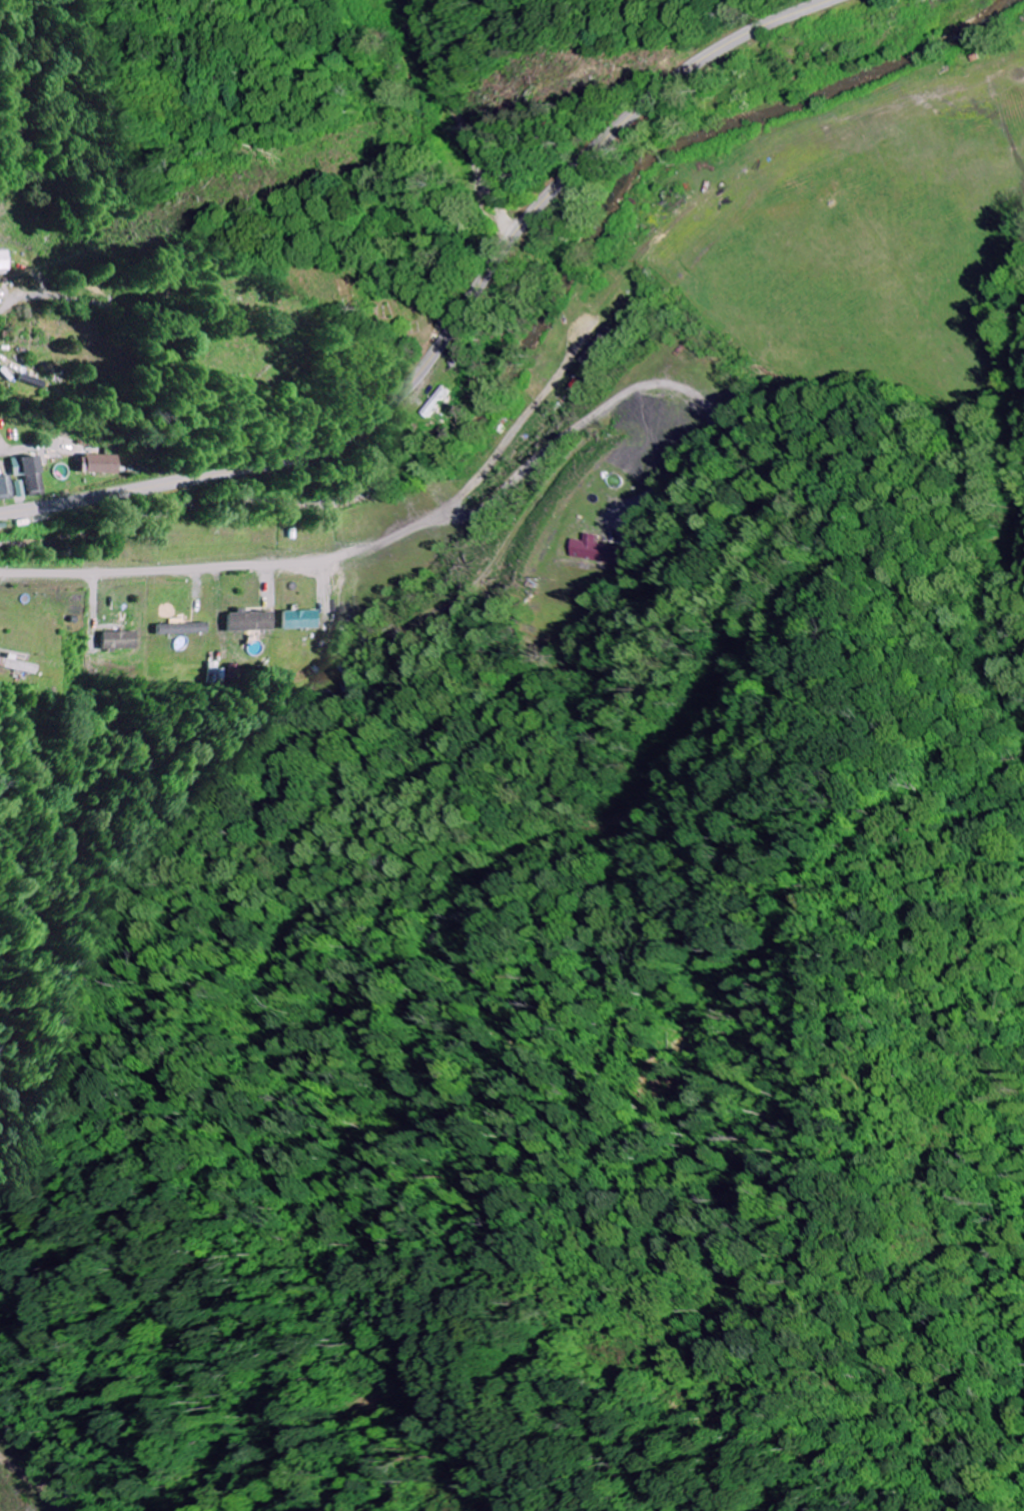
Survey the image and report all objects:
building: (3, 261)
road: (40, 296)
park: (305, 317)
road: (455, 331)
building: (598, 344)
building: (439, 401)
road: (14, 449)
building: (102, 464)
building: (31, 472)
building: (6, 486)
building: (599, 551)
road: (224, 566)
building: (306, 619)
building: (256, 621)
building: (189, 628)
building: (127, 640)

